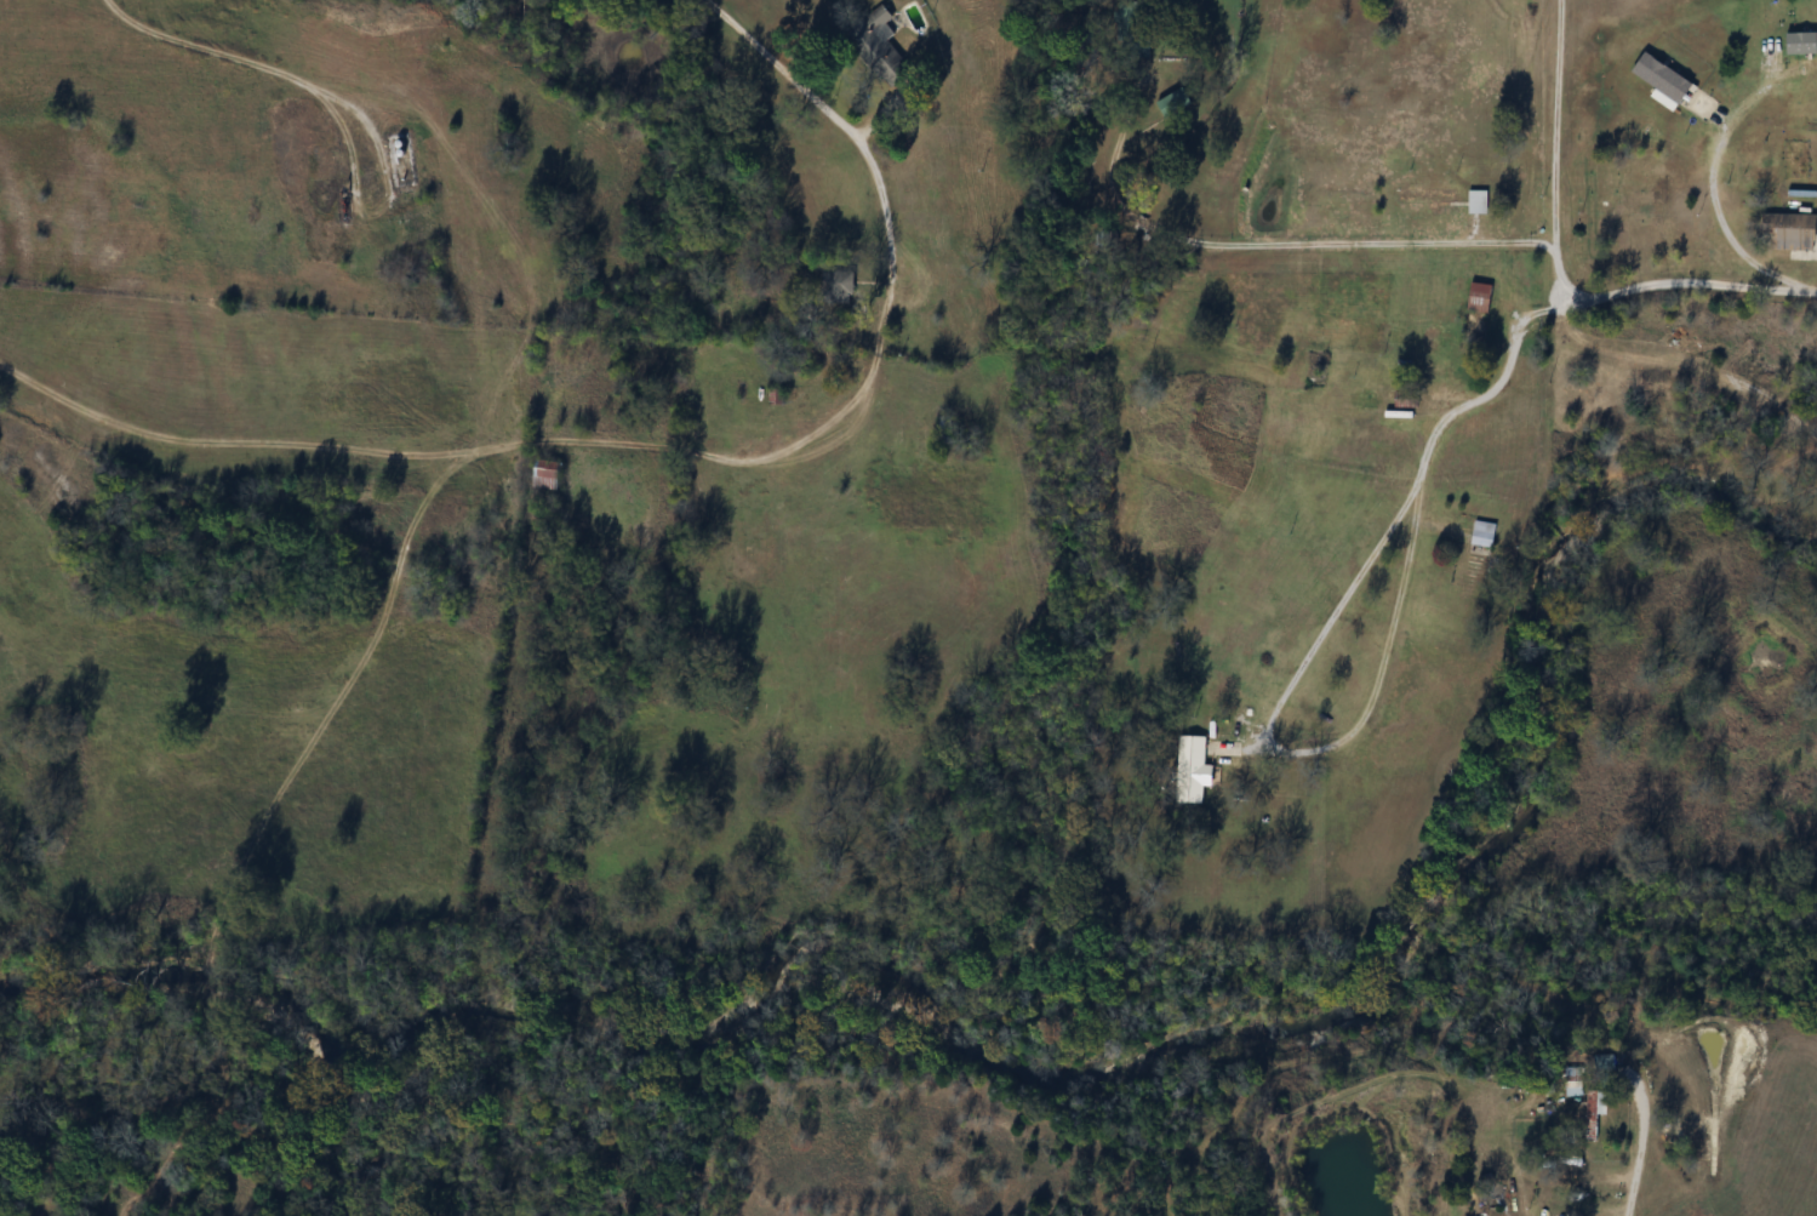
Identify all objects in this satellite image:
building: (878, 47)
building: (1662, 80)
road: (914, 86)
building: (1173, 102)
building: (1703, 105)
road: (1559, 152)
building: (1752, 166)
building: (1425, 196)
building: (1478, 201)
building: (1792, 235)
building: (1107, 238)
road: (1267, 245)
building: (838, 287)
building: (1480, 297)
road: (1577, 301)
road: (885, 329)
building: (1405, 398)
building: (545, 474)
building: (1484, 533)
road: (1409, 561)
building: (1190, 770)
building: (1604, 1063)
building: (1573, 1083)
building: (1594, 1113)
road: (1646, 1161)

